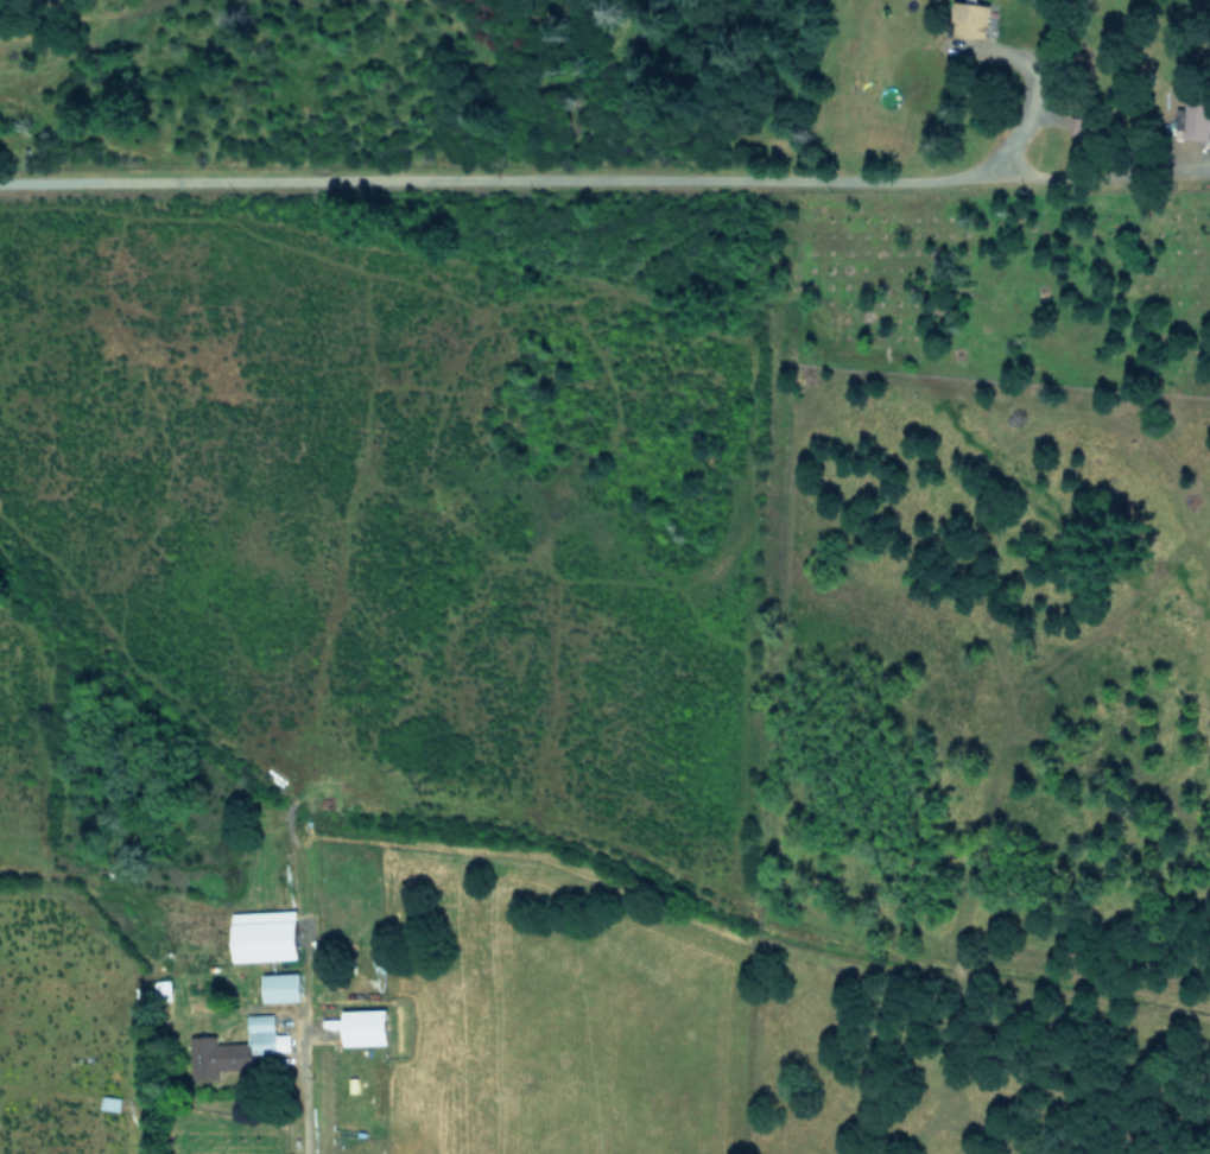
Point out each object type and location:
building: (970, 19)
road: (1032, 107)
building: (1197, 120)
road: (1081, 177)
road: (474, 183)
building: (264, 934)
building: (163, 987)
building: (280, 987)
building: (363, 1026)
building: (237, 1045)
road: (294, 1082)

